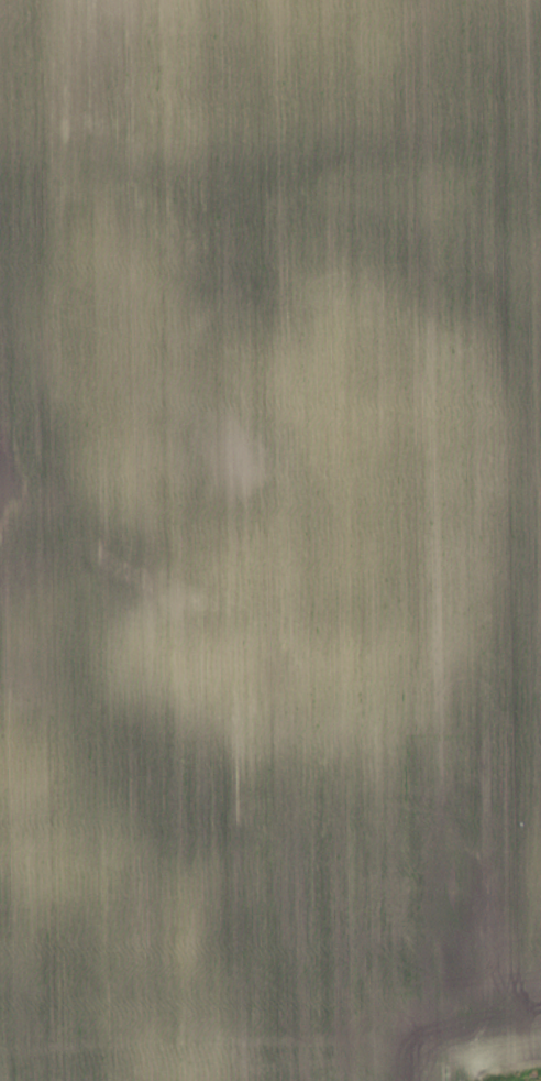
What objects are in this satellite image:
crop: (269, 539)

